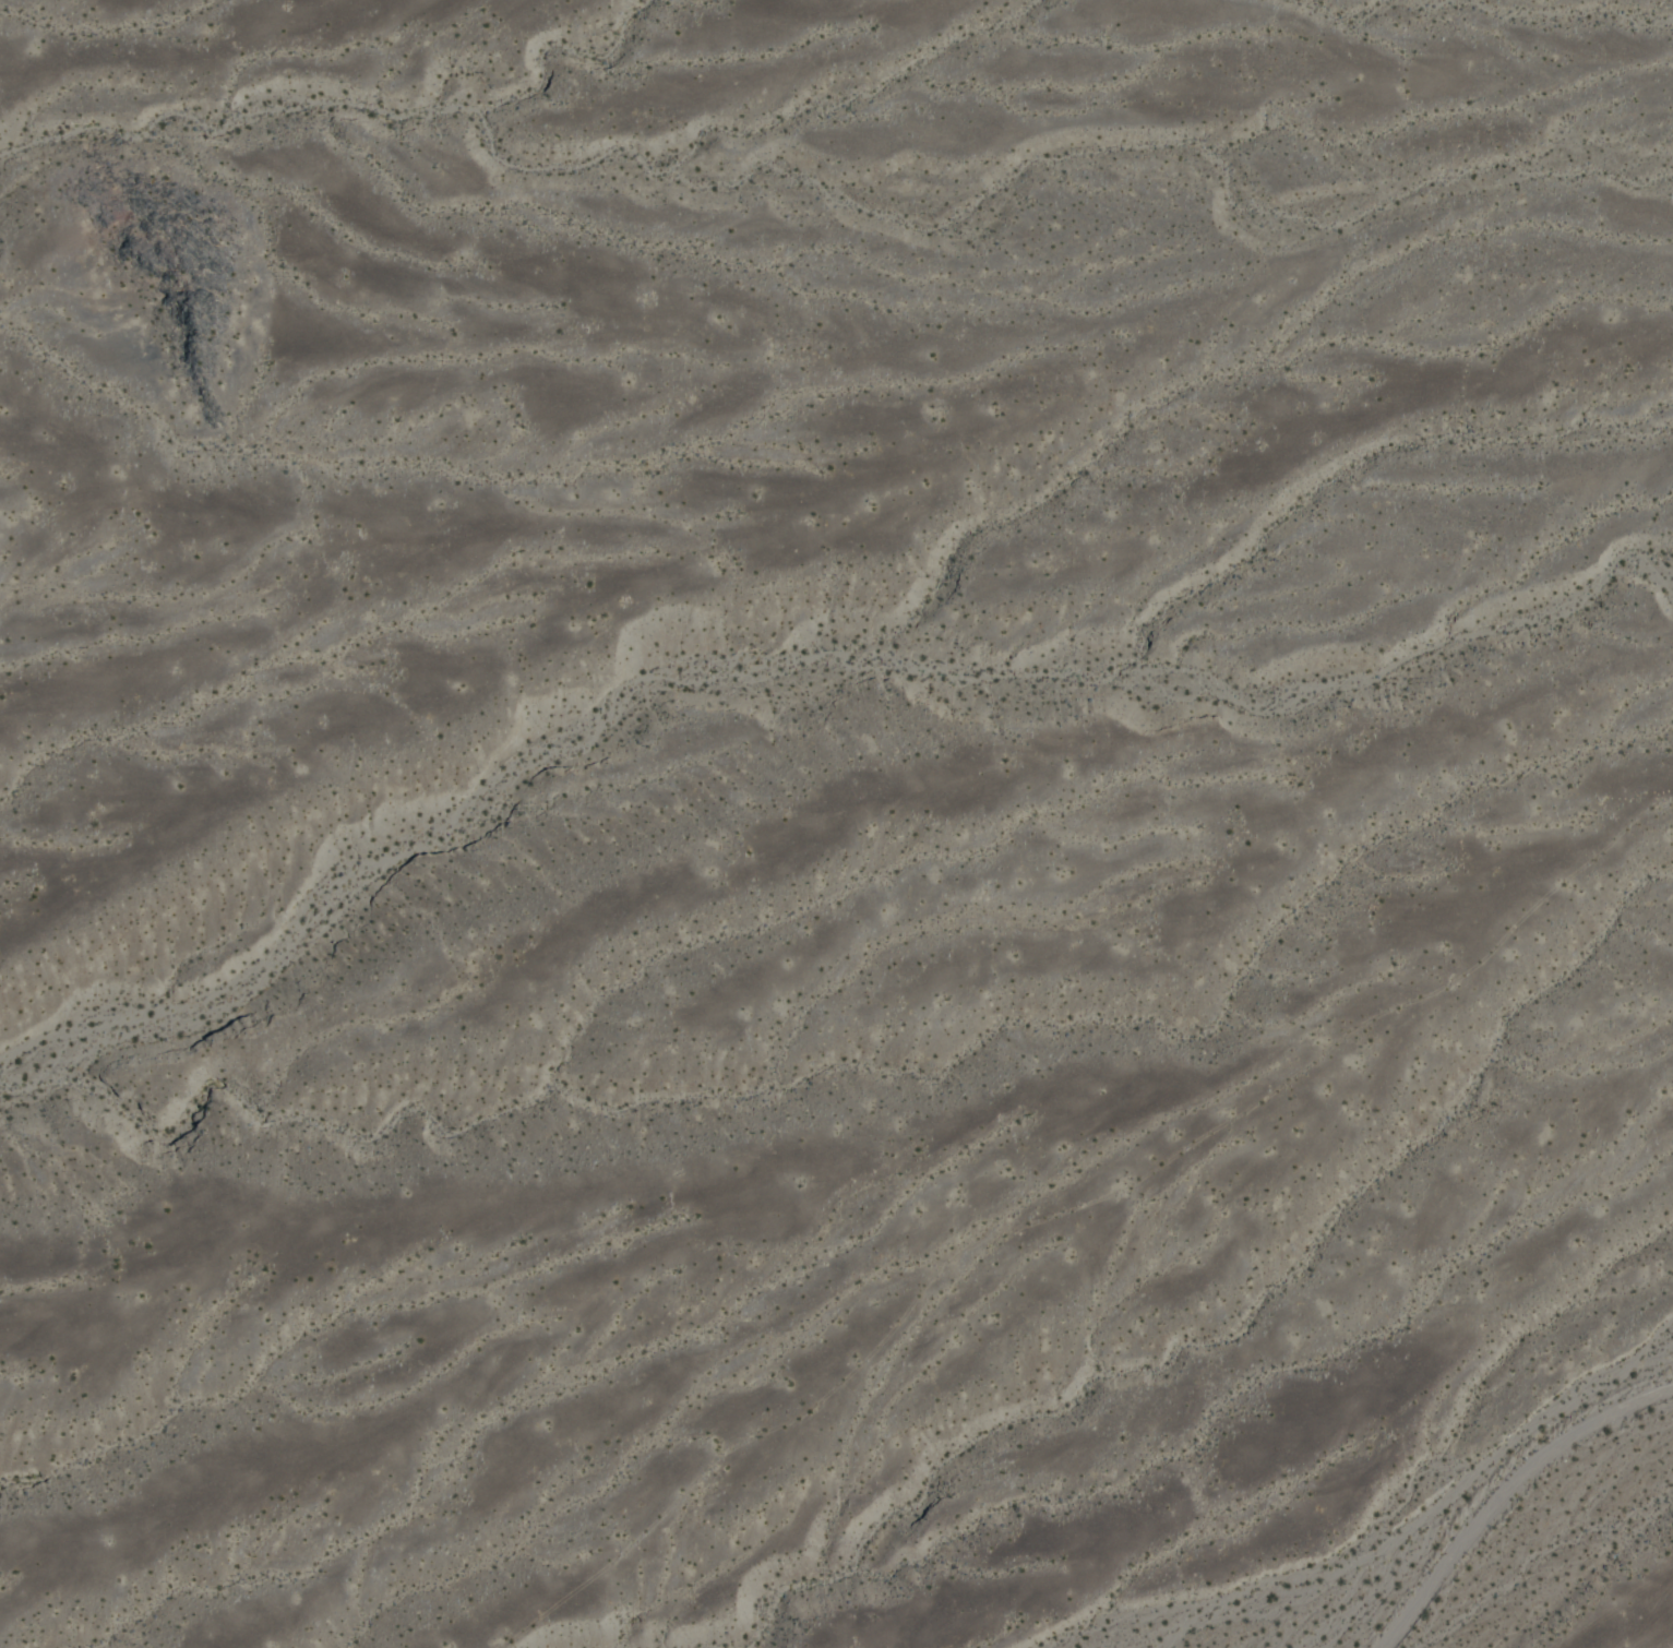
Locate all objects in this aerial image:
road: (1506, 1496)

